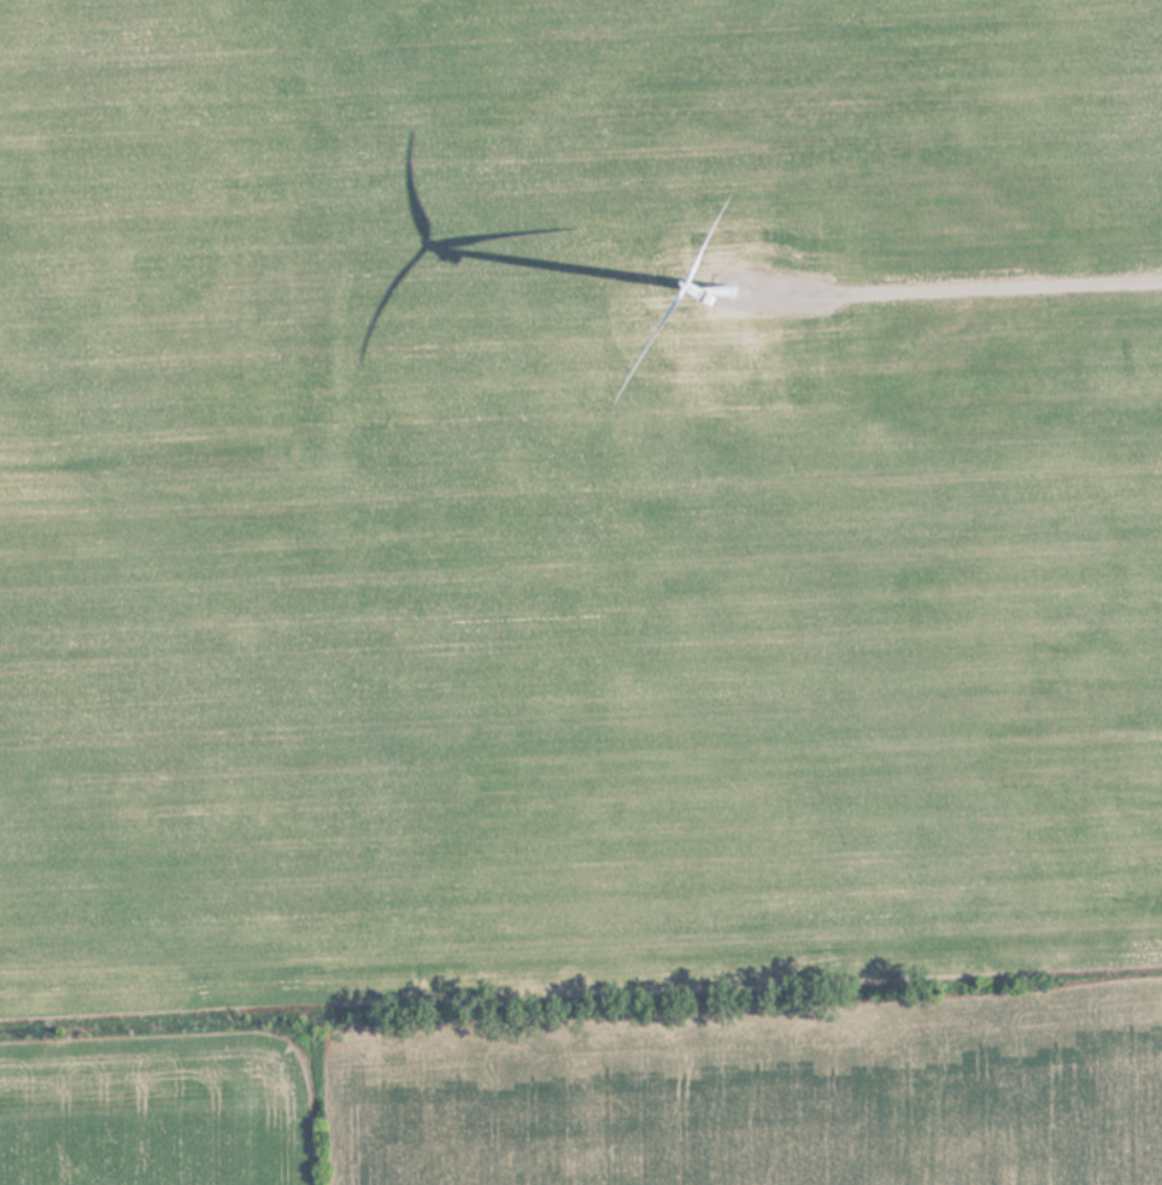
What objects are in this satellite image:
road: (1014, 284)
wind turbine: (732, 288)

